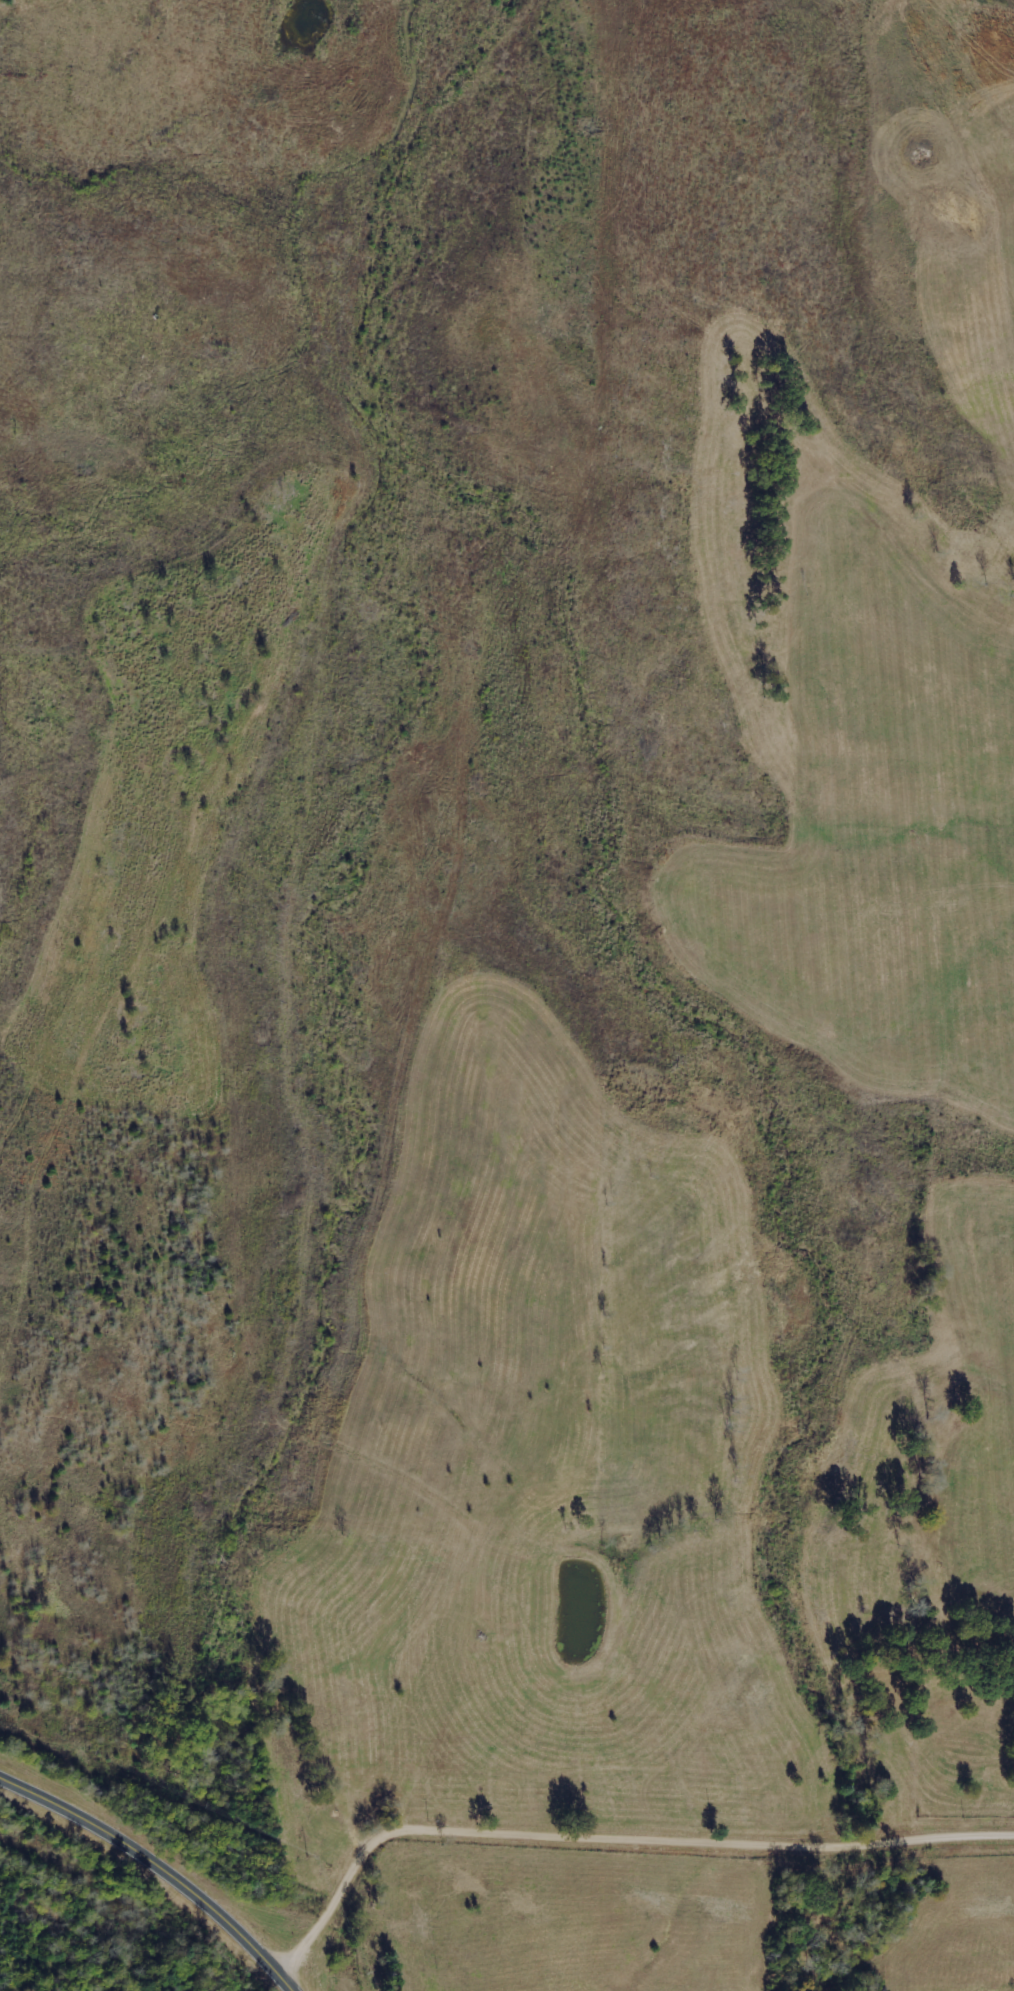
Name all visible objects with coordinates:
road: (613, 1836)
road: (160, 1863)

